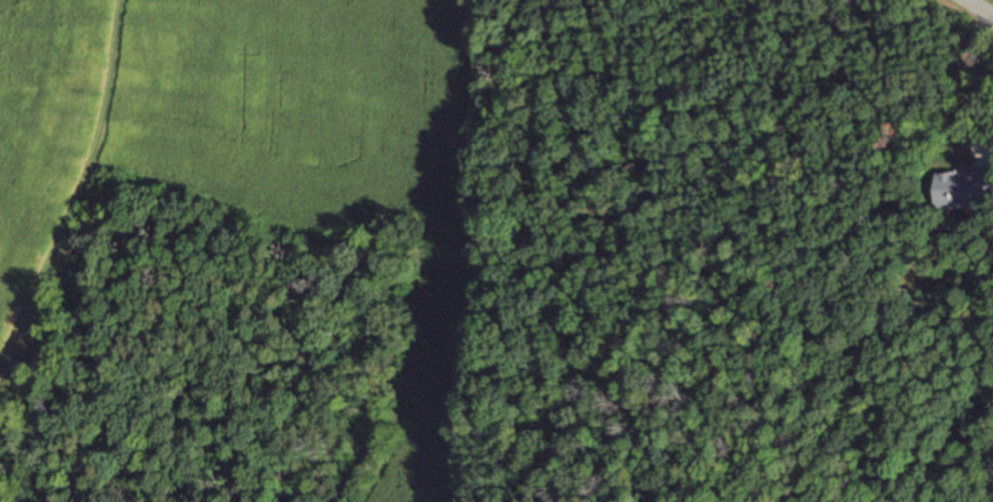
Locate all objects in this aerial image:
road: (980, 6)
road: (956, 88)
building: (967, 191)

